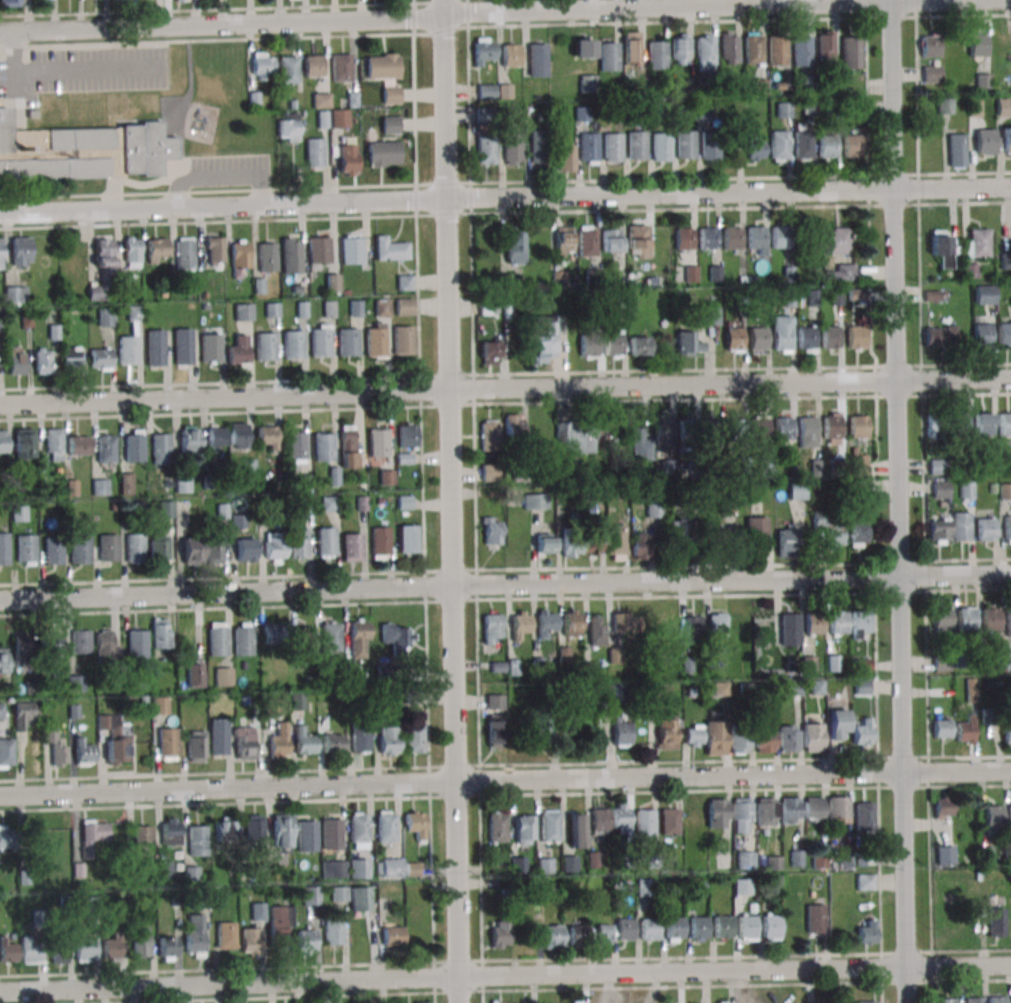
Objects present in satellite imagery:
building: (179, 0)
building: (9, 3)
road: (504, 9)
road: (221, 38)
building: (825, 44)
building: (584, 46)
building: (930, 46)
building: (977, 46)
building: (680, 48)
building: (729, 48)
building: (754, 49)
building: (484, 50)
building: (632, 50)
building: (777, 50)
building: (802, 50)
road: (15, 51)
building: (851, 53)
building: (706, 54)
building: (511, 55)
building: (657, 55)
building: (609, 56)
building: (538, 59)
building: (314, 65)
building: (263, 66)
building: (382, 66)
building: (341, 67)
road: (87, 70)
building: (289, 70)
parking lot: (82, 72)
building: (932, 74)
building: (983, 80)
building: (589, 83)
road: (15, 86)
building: (487, 91)
building: (390, 94)
building: (321, 100)
building: (945, 105)
building: (1003, 107)
building: (976, 108)
building: (784, 110)
building: (582, 113)
building: (339, 118)
road: (149, 120)
building: (390, 125)
building: (288, 127)
building: (1007, 140)
building: (985, 141)
road: (179, 144)
building: (685, 144)
building: (637, 145)
building: (710, 145)
building: (779, 145)
building: (803, 145)
building: (853, 145)
building: (538, 146)
building: (754, 146)
building: (828, 146)
building: (589, 147)
building: (612, 147)
building: (661, 147)
building: (513, 149)
building: (486, 150)
building: (956, 150)
building: (82, 151)
building: (314, 152)
building: (383, 154)
building: (566, 157)
building: (348, 159)
parking lot: (230, 170)
road: (227, 176)
road: (181, 190)
road: (263, 190)
road: (221, 191)
road: (505, 201)
building: (781, 236)
building: (637, 237)
building: (708, 237)
building: (732, 237)
building: (756, 237)
building: (684, 238)
building: (611, 240)
building: (564, 241)
building: (587, 241)
building: (835, 241)
building: (976, 243)
building: (515, 245)
building: (942, 247)
building: (351, 249)
building: (156, 250)
building: (319, 250)
building: (390, 250)
building: (20, 251)
building: (214, 251)
building: (131, 252)
building: (1, 254)
building: (103, 255)
building: (185, 255)
building: (290, 255)
building: (267, 256)
building: (239, 257)
building: (970, 270)
building: (691, 273)
building: (841, 273)
building: (560, 278)
building: (405, 282)
building: (332, 284)
building: (95, 292)
building: (985, 294)
building: (15, 295)
building: (404, 306)
building: (383, 307)
building: (272, 309)
building: (243, 312)
building: (134, 313)
building: (711, 316)
building: (106, 317)
building: (1004, 333)
building: (782, 334)
building: (734, 335)
building: (982, 335)
building: (940, 336)
building: (832, 337)
building: (857, 337)
building: (545, 338)
building: (807, 338)
building: (758, 340)
building: (403, 341)
building: (348, 342)
building: (376, 342)
building: (320, 343)
building: (589, 344)
building: (613, 344)
building: (688, 344)
building: (293, 345)
building: (639, 346)
building: (183, 347)
building: (266, 347)
building: (155, 348)
building: (211, 348)
building: (127, 350)
building: (239, 351)
building: (490, 352)
building: (71, 359)
building: (100, 359)
building: (16, 360)
building: (43, 361)
road: (505, 388)
road: (420, 391)
building: (1005, 423)
building: (960, 424)
building: (983, 424)
building: (513, 425)
building: (539, 425)
building: (858, 426)
building: (935, 426)
building: (736, 428)
building: (759, 428)
building: (784, 428)
building: (832, 428)
building: (807, 431)
building: (663, 432)
building: (242, 435)
building: (408, 435)
building: (489, 435)
building: (268, 436)
building: (215, 438)
building: (574, 438)
building: (190, 439)
building: (3, 441)
building: (378, 442)
building: (52, 444)
building: (23, 445)
building: (77, 445)
building: (133, 445)
building: (295, 445)
building: (640, 445)
building: (323, 446)
building: (347, 446)
building: (105, 448)
building: (161, 449)
building: (859, 464)
building: (766, 465)
building: (668, 467)
building: (938, 467)
building: (490, 472)
building: (334, 476)
building: (387, 477)
building: (100, 487)
building: (941, 489)
building: (967, 489)
building: (796, 490)
building: (1005, 491)
road: (451, 501)
road: (475, 501)
building: (535, 501)
road: (898, 501)
road: (923, 501)
building: (305, 504)
building: (330, 504)
building: (655, 509)
building: (19, 513)
building: (960, 527)
building: (829, 529)
building: (985, 529)
building: (1007, 530)
building: (492, 531)
building: (756, 531)
building: (858, 531)
building: (937, 531)
building: (680, 532)
building: (719, 538)
building: (408, 539)
building: (380, 541)
building: (324, 542)
building: (592, 542)
building: (616, 542)
building: (786, 542)
building: (298, 543)
building: (545, 543)
building: (571, 545)
building: (640, 546)
building: (275, 547)
building: (108, 548)
building: (135, 548)
building: (352, 548)
building: (4, 549)
building: (25, 549)
building: (159, 549)
building: (245, 549)
building: (79, 550)
building: (53, 551)
building: (192, 551)
building: (213, 552)
road: (505, 583)
building: (966, 618)
building: (942, 619)
building: (990, 619)
building: (1008, 621)
building: (545, 622)
building: (620, 622)
building: (572, 623)
building: (814, 623)
building: (836, 623)
building: (517, 624)
building: (860, 625)
building: (716, 626)
building: (493, 628)
building: (670, 628)
building: (693, 628)
building: (789, 629)
building: (596, 630)
building: (160, 632)
building: (275, 634)
building: (331, 636)
building: (305, 637)
building: (397, 637)
building: (359, 638)
building: (217, 639)
building: (243, 639)
building: (81, 641)
building: (137, 643)
building: (106, 645)
building: (53, 646)
building: (21, 651)
building: (1006, 659)
building: (4, 662)
building: (687, 665)
building: (195, 673)
building: (223, 676)
building: (77, 682)
building: (862, 686)
building: (721, 689)
building: (659, 692)
building: (297, 701)
building: (494, 701)
building: (160, 705)
building: (1, 710)
building: (25, 714)
building: (838, 723)
building: (941, 728)
building: (622, 731)
building: (965, 731)
building: (862, 732)
building: (544, 733)
building: (667, 733)
building: (495, 734)
building: (693, 735)
building: (218, 736)
building: (715, 737)
building: (812, 737)
building: (765, 738)
building: (788, 738)
building: (1007, 738)
building: (115, 739)
building: (414, 739)
building: (739, 739)
building: (361, 740)
building: (389, 740)
building: (304, 741)
building: (280, 742)
building: (245, 743)
building: (333, 743)
building: (168, 744)
building: (196, 746)
building: (54, 749)
building: (84, 752)
building: (7, 753)
road: (505, 779)
building: (943, 808)
building: (813, 809)
building: (838, 809)
building: (790, 810)
building: (765, 811)
building: (717, 813)
building: (741, 815)
building: (864, 816)
building: (620, 818)
building: (600, 819)
building: (669, 821)
building: (990, 821)
building: (645, 822)
building: (416, 824)
building: (386, 826)
building: (550, 826)
building: (497, 827)
building: (225, 828)
building: (254, 829)
building: (358, 830)
building: (524, 830)
building: (576, 830)
building: (170, 831)
building: (282, 831)
building: (332, 833)
building: (92, 835)
building: (306, 835)
building: (6, 837)
building: (142, 840)
building: (196, 840)
building: (945, 855)
building: (797, 858)
building: (745, 860)
building: (569, 863)
building: (519, 865)
building: (545, 865)
building: (392, 867)
building: (358, 868)
building: (334, 869)
building: (191, 873)
building: (865, 882)
building: (645, 887)
building: (339, 893)
building: (311, 895)
building: (360, 901)
building: (258, 911)
building: (815, 918)
building: (280, 920)
building: (996, 922)
building: (747, 926)
building: (770, 926)
building: (699, 927)
building: (722, 927)
building: (674, 928)
building: (625, 929)
building: (649, 929)
building: (334, 931)
building: (868, 933)
building: (500, 934)
building: (603, 934)
building: (226, 935)
building: (393, 935)
building: (576, 935)
building: (194, 936)
building: (549, 936)
building: (305, 938)
building: (250, 941)
building: (141, 942)
building: (112, 945)
building: (166, 948)
building: (29, 949)
building: (87, 949)
building: (7, 950)
building: (59, 950)
road: (505, 975)
building: (996, 999)
building: (946, 1000)
building: (972, 1000)
building: (574, 1002)
building: (720, 1002)
building: (866, 1002)

